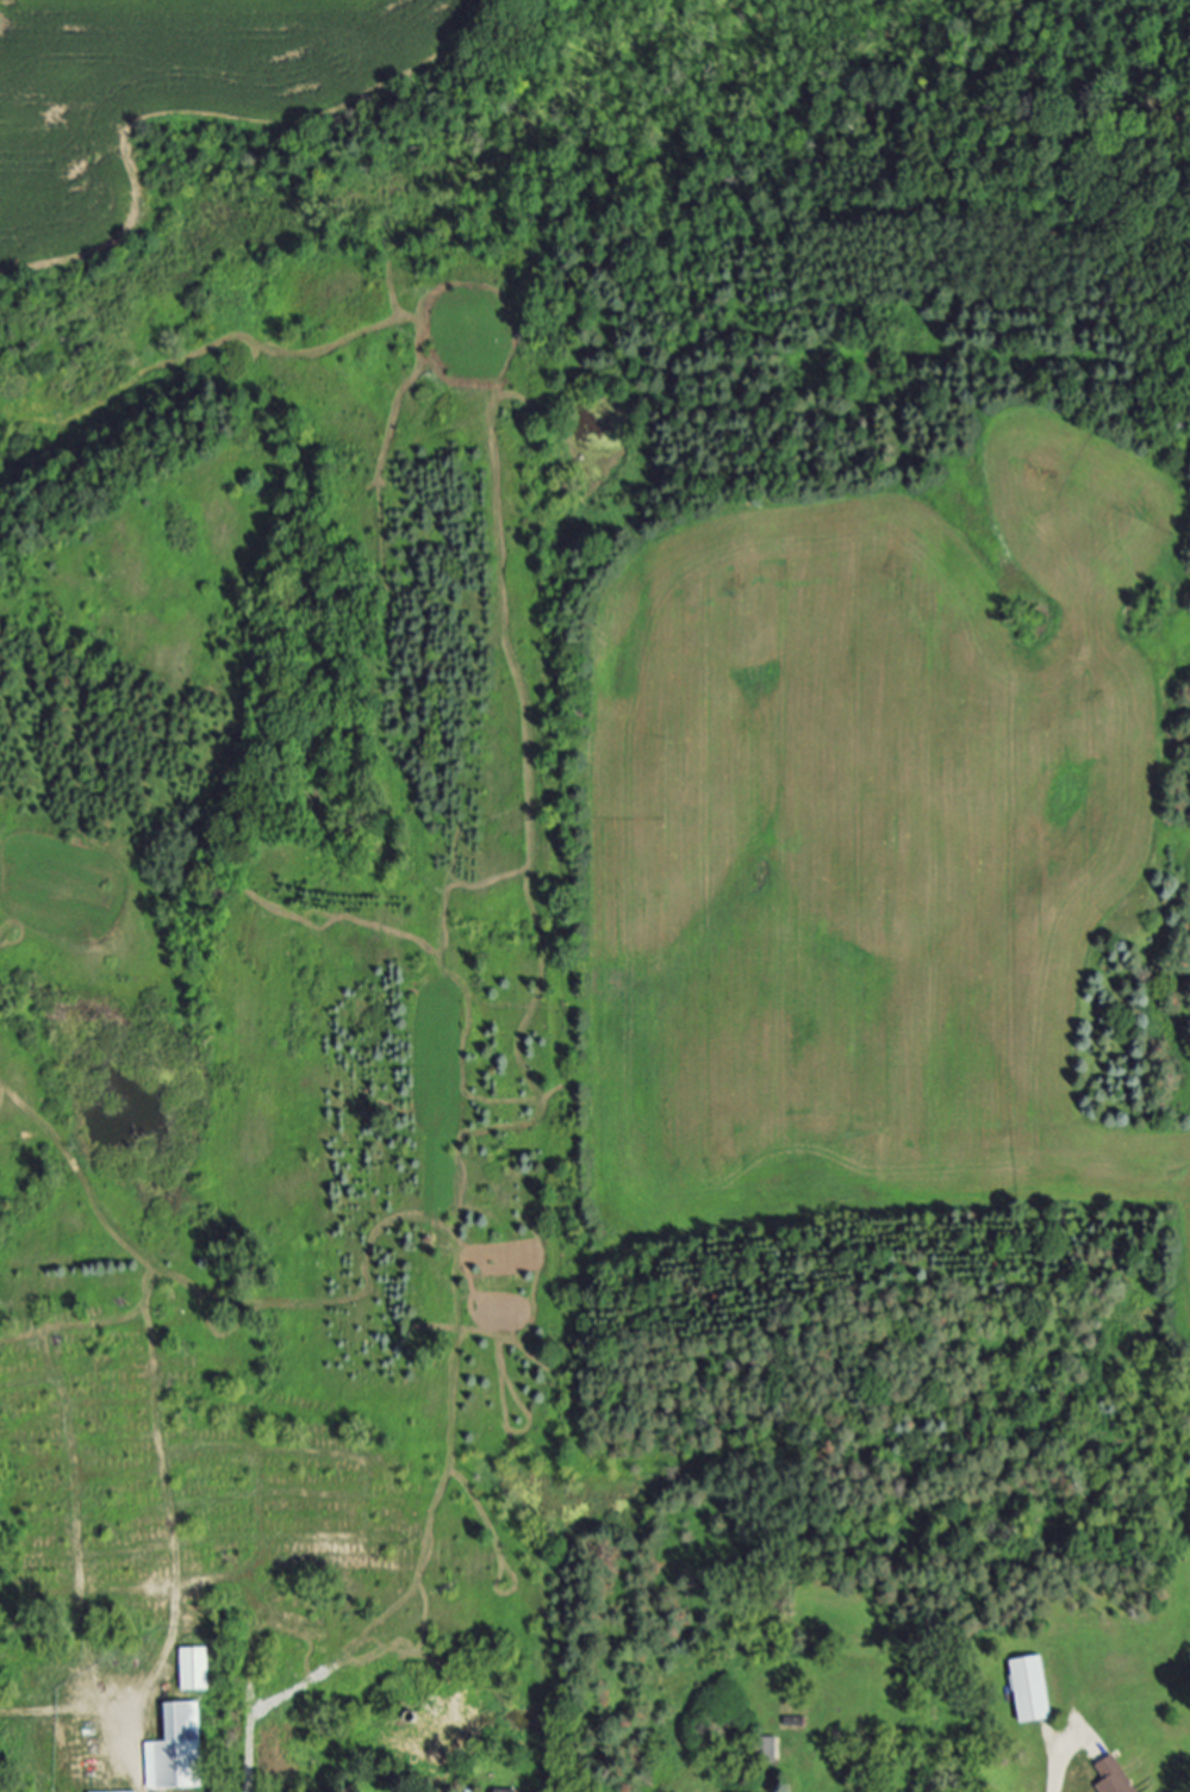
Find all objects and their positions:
road: (170, 1448)
road: (77, 1549)
building: (194, 1670)
building: (1030, 1694)
road: (66, 1711)
building: (177, 1750)
road: (133, 1755)
road: (1055, 1772)
building: (1114, 1777)
building: (139, 1791)
building: (506, 1791)

